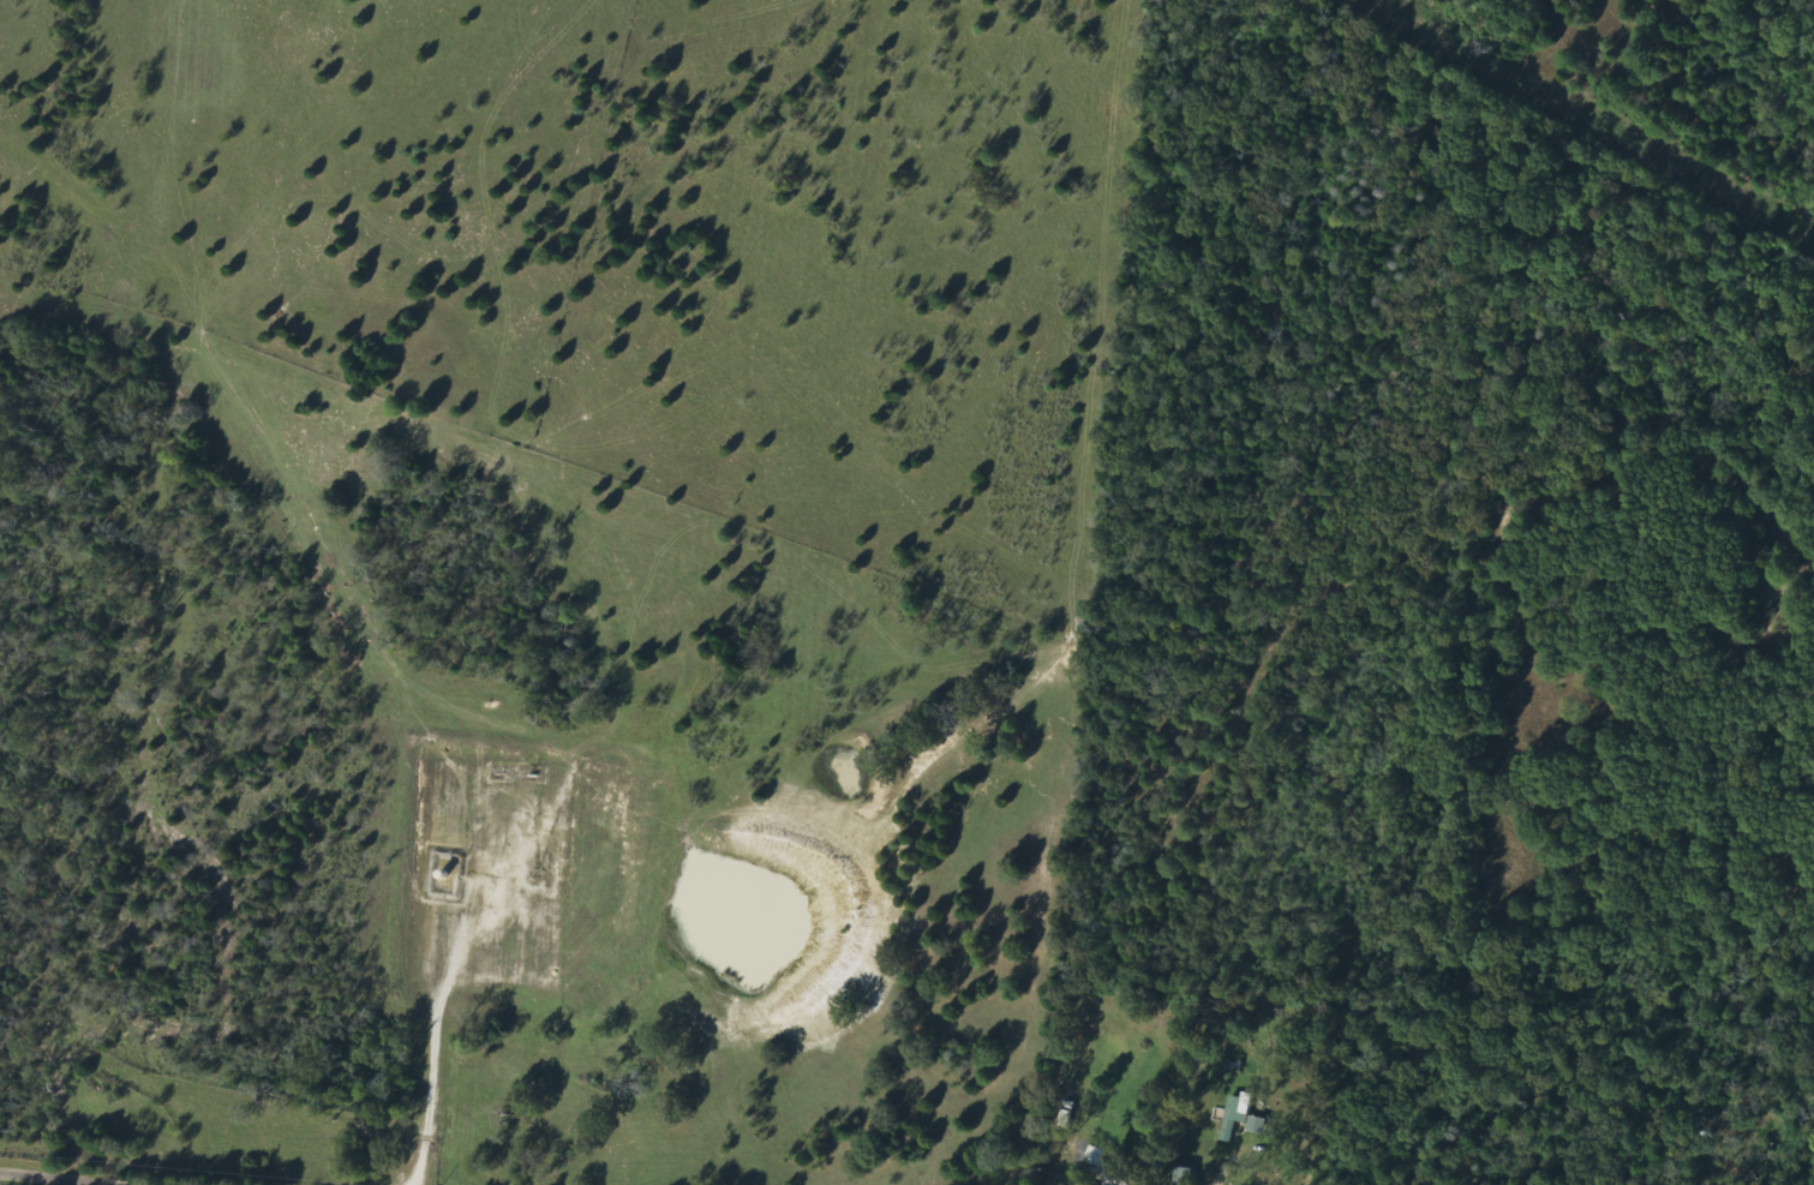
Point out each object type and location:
building: (1238, 1114)
building: (1100, 1157)
road: (214, 1159)
building: (1185, 1175)
building: (1119, 1177)

